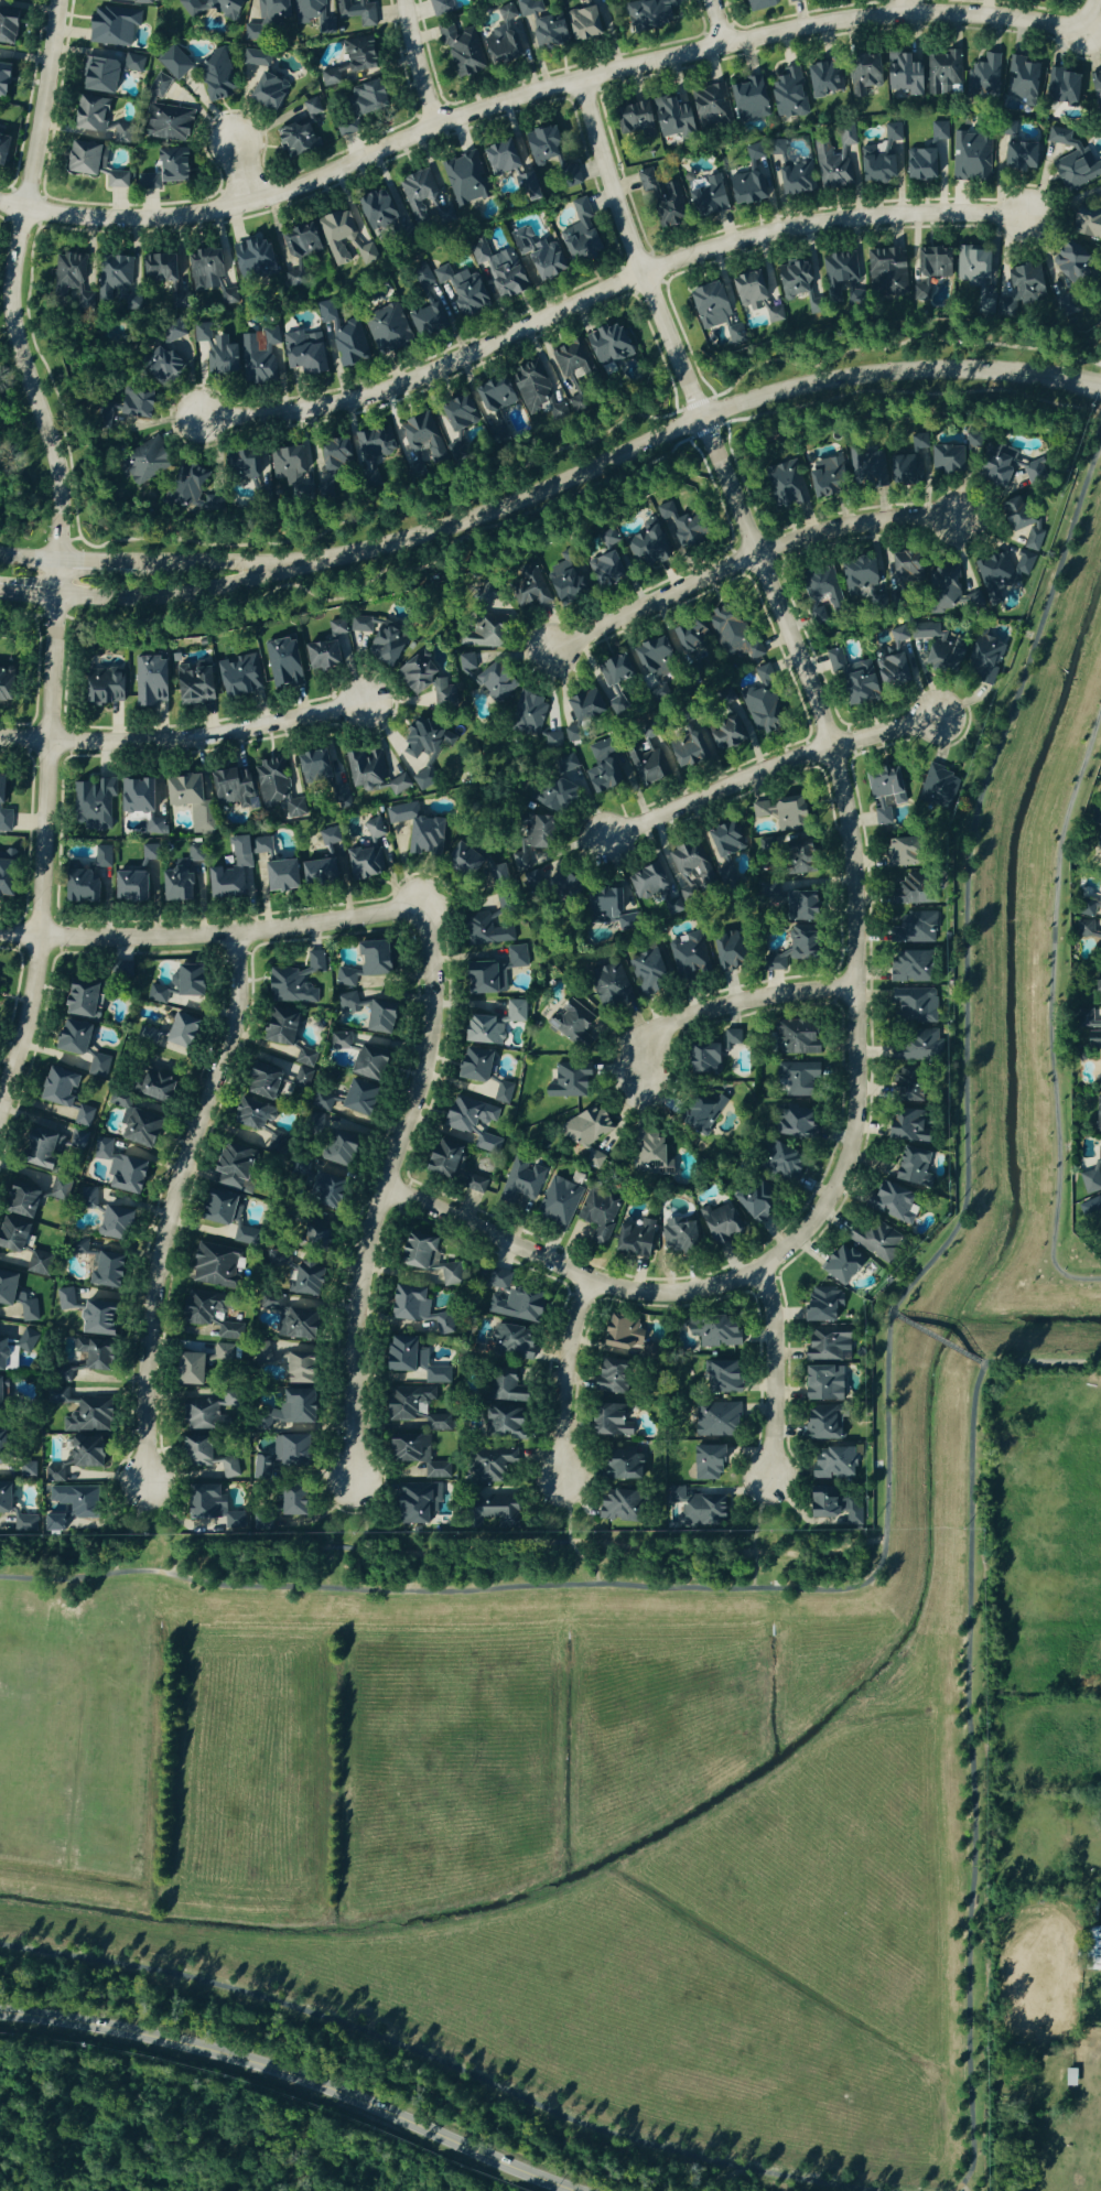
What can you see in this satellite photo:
building: (140, 2)
building: (765, 3)
building: (209, 7)
building: (439, 7)
road: (903, 8)
building: (647, 13)
building: (354, 14)
building: (313, 15)
building: (266, 18)
road: (1091, 18)
road: (720, 23)
building: (582, 24)
building: (6, 25)
building: (111, 25)
building: (541, 25)
building: (505, 39)
building: (461, 50)
road: (424, 60)
building: (348, 62)
building: (173, 63)
building: (132, 64)
building: (861, 74)
building: (902, 74)
building: (943, 74)
building: (95, 75)
building: (216, 77)
building: (983, 77)
building: (3, 79)
building: (1021, 79)
building: (821, 80)
building: (261, 82)
building: (1061, 87)
building: (1095, 93)
road: (536, 94)
building: (787, 94)
building: (747, 100)
building: (710, 106)
building: (358, 107)
building: (88, 117)
building: (651, 118)
building: (166, 125)
building: (1008, 128)
building: (301, 132)
building: (892, 132)
building: (925, 155)
building: (549, 156)
building: (970, 156)
building: (1017, 156)
building: (499, 158)
building: (78, 159)
building: (833, 159)
building: (1072, 162)
building: (171, 165)
building: (874, 166)
building: (787, 172)
road: (241, 173)
building: (115, 180)
building: (463, 180)
building: (147, 182)
building: (747, 183)
building: (418, 194)
building: (703, 196)
building: (661, 197)
building: (375, 209)
building: (1087, 222)
building: (336, 234)
building: (579, 236)
building: (295, 246)
building: (368, 252)
building: (536, 255)
building: (251, 260)
building: (931, 262)
building: (1066, 265)
building: (971, 267)
building: (154, 269)
building: (202, 269)
building: (498, 273)
building: (886, 273)
building: (110, 276)
building: (423, 278)
building: (67, 279)
building: (791, 279)
building: (1024, 285)
building: (460, 290)
road: (602, 291)
building: (754, 295)
building: (708, 305)
building: (428, 320)
building: (386, 328)
building: (173, 334)
building: (339, 336)
building: (731, 339)
building: (605, 348)
building: (212, 353)
building: (301, 353)
building: (258, 357)
building: (572, 363)
building: (162, 365)
building: (528, 385)
road: (900, 395)
building: (492, 396)
building: (575, 404)
building: (131, 406)
road: (684, 427)
road: (1097, 428)
building: (413, 429)
building: (371, 443)
building: (971, 443)
building: (333, 455)
building: (943, 460)
building: (143, 462)
building: (246, 465)
building: (907, 465)
building: (287, 467)
building: (866, 471)
building: (992, 471)
building: (1029, 471)
building: (823, 477)
building: (782, 484)
building: (185, 497)
building: (1015, 522)
building: (676, 527)
road: (57, 532)
building: (1033, 541)
building: (645, 548)
road: (749, 557)
road: (140, 564)
building: (904, 571)
building: (603, 572)
building: (1001, 574)
building: (856, 578)
building: (561, 584)
building: (527, 587)
building: (819, 587)
building: (948, 592)
road: (143, 600)
road: (780, 616)
building: (816, 617)
building: (476, 632)
building: (731, 636)
building: (379, 640)
building: (937, 648)
building: (328, 649)
building: (649, 656)
building: (983, 660)
building: (890, 661)
building: (282, 663)
building: (466, 663)
building: (760, 672)
building: (237, 677)
building: (851, 679)
building: (425, 681)
building: (149, 682)
building: (611, 682)
building: (493, 683)
building: (102, 687)
building: (724, 697)
building: (581, 706)
building: (758, 712)
building: (531, 721)
building: (723, 734)
building: (569, 735)
road: (183, 740)
building: (424, 741)
road: (962, 741)
building: (686, 749)
building: (646, 764)
building: (310, 767)
building: (602, 768)
building: (364, 769)
road: (766, 773)
building: (422, 780)
building: (398, 785)
building: (230, 789)
building: (937, 789)
building: (276, 791)
building: (882, 792)
building: (338, 795)
building: (134, 797)
building: (553, 797)
building: (186, 799)
building: (91, 806)
building: (779, 813)
building: (3, 817)
building: (1097, 818)
building: (155, 828)
building: (415, 831)
building: (326, 838)
building: (1095, 842)
building: (530, 846)
building: (722, 849)
building: (366, 852)
building: (895, 852)
building: (149, 853)
building: (791, 859)
building: (461, 861)
building: (1100, 862)
building: (690, 867)
building: (235, 870)
building: (315, 873)
building: (4, 875)
building: (497, 876)
building: (277, 877)
building: (180, 878)
building: (646, 881)
building: (83, 882)
building: (126, 888)
building: (909, 891)
building: (154, 892)
building: (797, 902)
building: (1089, 905)
building: (602, 906)
building: (911, 928)
building: (1087, 930)
building: (483, 932)
road: (211, 935)
building: (799, 943)
building: (723, 950)
building: (515, 957)
building: (687, 957)
building: (364, 962)
building: (770, 962)
building: (907, 967)
building: (120, 970)
building: (643, 971)
building: (482, 978)
building: (293, 981)
building: (185, 982)
building: (607, 985)
building: (1097, 991)
building: (156, 994)
building: (76, 1000)
building: (348, 1003)
road: (732, 1004)
building: (911, 1005)
road: (1048, 1008)
building: (377, 1017)
building: (571, 1023)
building: (492, 1024)
building: (277, 1027)
building: (1088, 1030)
building: (174, 1032)
building: (68, 1037)
building: (730, 1037)
building: (792, 1038)
building: (337, 1041)
building: (700, 1058)
building: (911, 1059)
building: (365, 1061)
building: (471, 1065)
building: (97, 1066)
building: (1099, 1068)
building: (274, 1073)
building: (795, 1078)
building: (152, 1079)
building: (568, 1081)
building: (54, 1087)
building: (503, 1092)
building: (355, 1098)
building: (320, 1102)
building: (700, 1112)
building: (1097, 1113)
building: (83, 1115)
building: (248, 1115)
building: (791, 1121)
building: (469, 1124)
building: (136, 1127)
building: (587, 1127)
building: (905, 1127)
building: (41, 1141)
building: (76, 1141)
building: (334, 1147)
building: (101, 1148)
building: (649, 1153)
building: (1098, 1156)
building: (442, 1159)
building: (777, 1161)
building: (230, 1165)
building: (909, 1168)
building: (123, 1174)
building: (519, 1181)
building: (1089, 1181)
building: (474, 1185)
building: (58, 1189)
building: (322, 1189)
road: (384, 1192)
building: (87, 1197)
building: (17, 1199)
building: (558, 1201)
building: (751, 1201)
building: (889, 1202)
road: (170, 1205)
building: (216, 1207)
building: (1089, 1209)
building: (598, 1215)
building: (111, 1222)
building: (10, 1234)
building: (312, 1234)
building: (242, 1235)
building: (677, 1237)
building: (635, 1239)
building: (874, 1240)
building: (77, 1246)
building: (418, 1254)
building: (36, 1263)
building: (839, 1264)
building: (211, 1266)
building: (101, 1269)
building: (449, 1275)
building: (303, 1278)
road: (624, 1284)
building: (6, 1287)
building: (64, 1299)
building: (269, 1303)
building: (406, 1303)
building: (512, 1304)
building: (820, 1305)
building: (13, 1307)
building: (28, 1310)
building: (207, 1316)
road: (893, 1317)
building: (95, 1318)
building: (429, 1324)
building: (296, 1325)
building: (713, 1331)
building: (622, 1337)
building: (25, 1340)
building: (510, 1341)
road: (937, 1341)
building: (823, 1343)
building: (0, 1349)
building: (260, 1353)
building: (77, 1357)
building: (410, 1359)
road: (1041, 1362)
road: (774, 1367)
road: (981, 1367)
building: (295, 1368)
building: (186, 1369)
building: (721, 1377)
road: (562, 1379)
building: (607, 1379)
building: (821, 1383)
building: (1, 1384)
building: (406, 1403)
building: (503, 1404)
building: (287, 1410)
building: (204, 1414)
building: (84, 1417)
building: (715, 1420)
building: (607, 1422)
building: (435, 1423)
building: (819, 1423)
road: (885, 1428)
building: (403, 1448)
building: (83, 1453)
building: (278, 1456)
building: (205, 1458)
building: (490, 1463)
building: (705, 1463)
building: (830, 1464)
building: (618, 1465)
building: (26, 1470)
building: (435, 1470)
building: (53, 1474)
building: (3, 1497)
building: (74, 1501)
building: (411, 1502)
building: (819, 1502)
building: (288, 1503)
building: (207, 1504)
building: (615, 1505)
building: (699, 1511)
building: (490, 1512)
building: (851, 1513)
building: (23, 1523)
building: (50, 1523)
road: (128, 1528)
road: (363, 1529)
road: (752, 1533)
road: (566, 1539)
road: (522, 1543)
road: (971, 1783)
building: (1093, 1947)
road: (449, 2064)
road: (385, 2072)
road: (295, 2074)
building: (1071, 2076)

